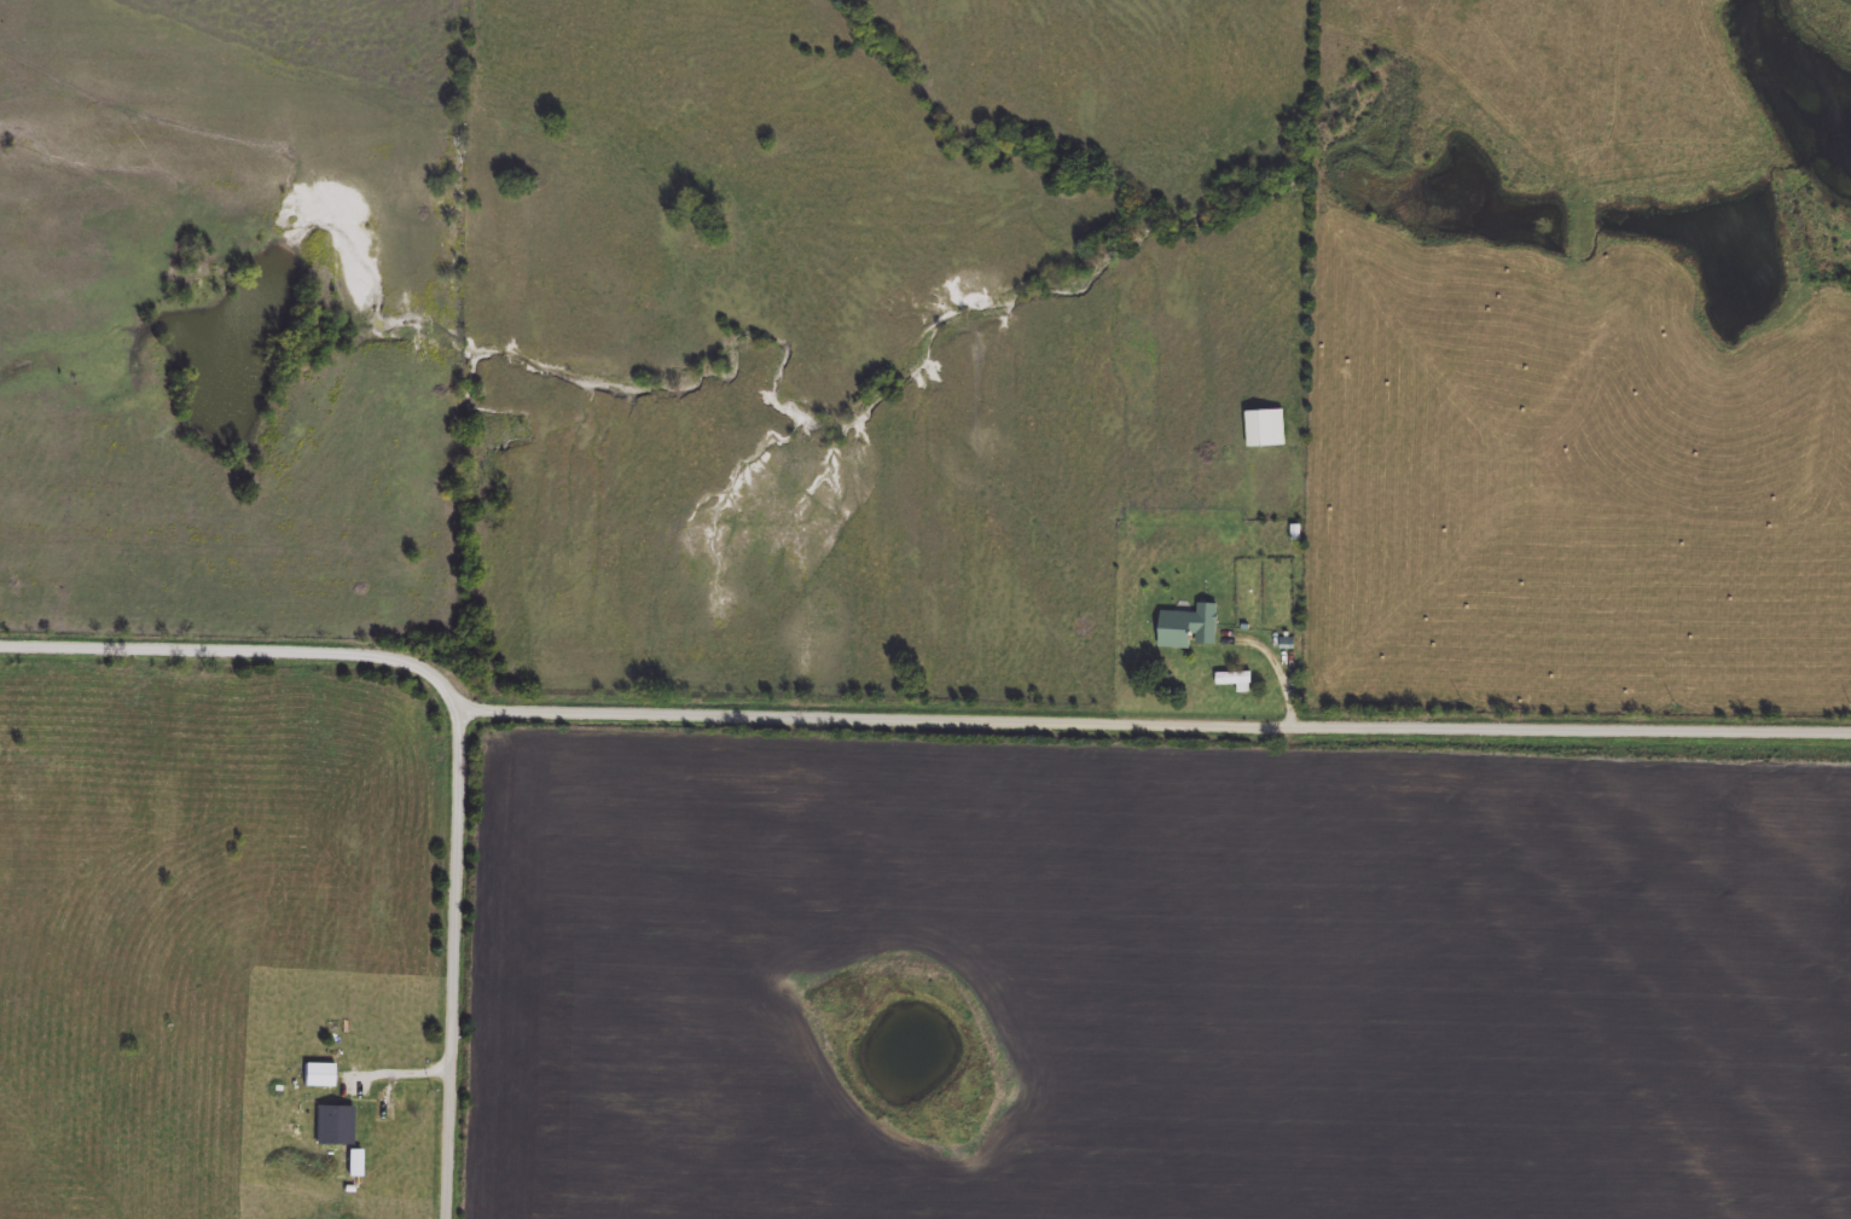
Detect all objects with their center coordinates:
building: (1266, 428)
building: (1189, 628)
road: (243, 648)
building: (1236, 680)
road: (1155, 718)
road: (451, 963)
building: (320, 1076)
building: (385, 1109)
building: (336, 1127)

